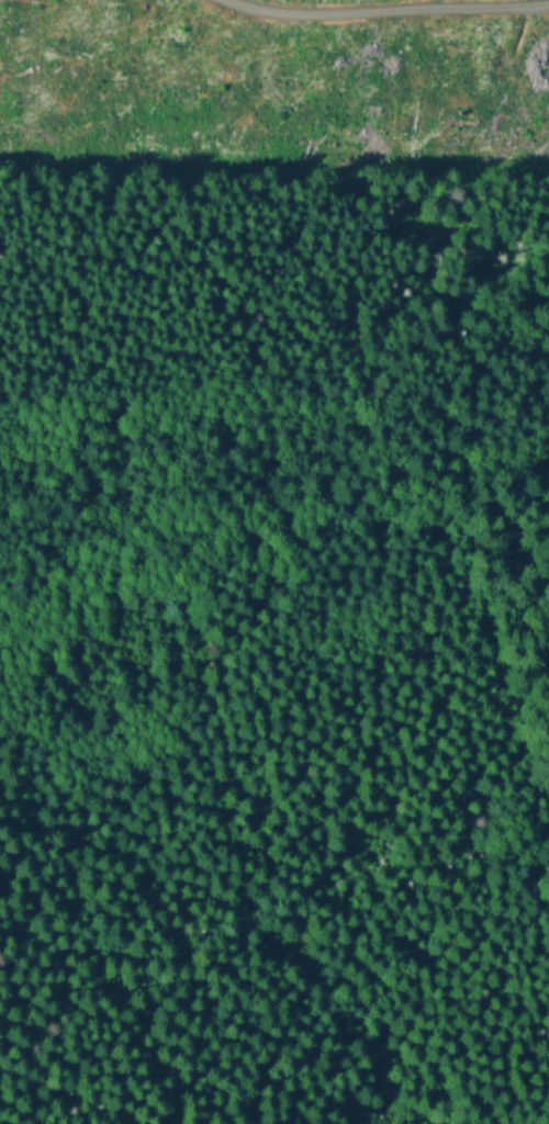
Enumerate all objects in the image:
road: (372, 25)

